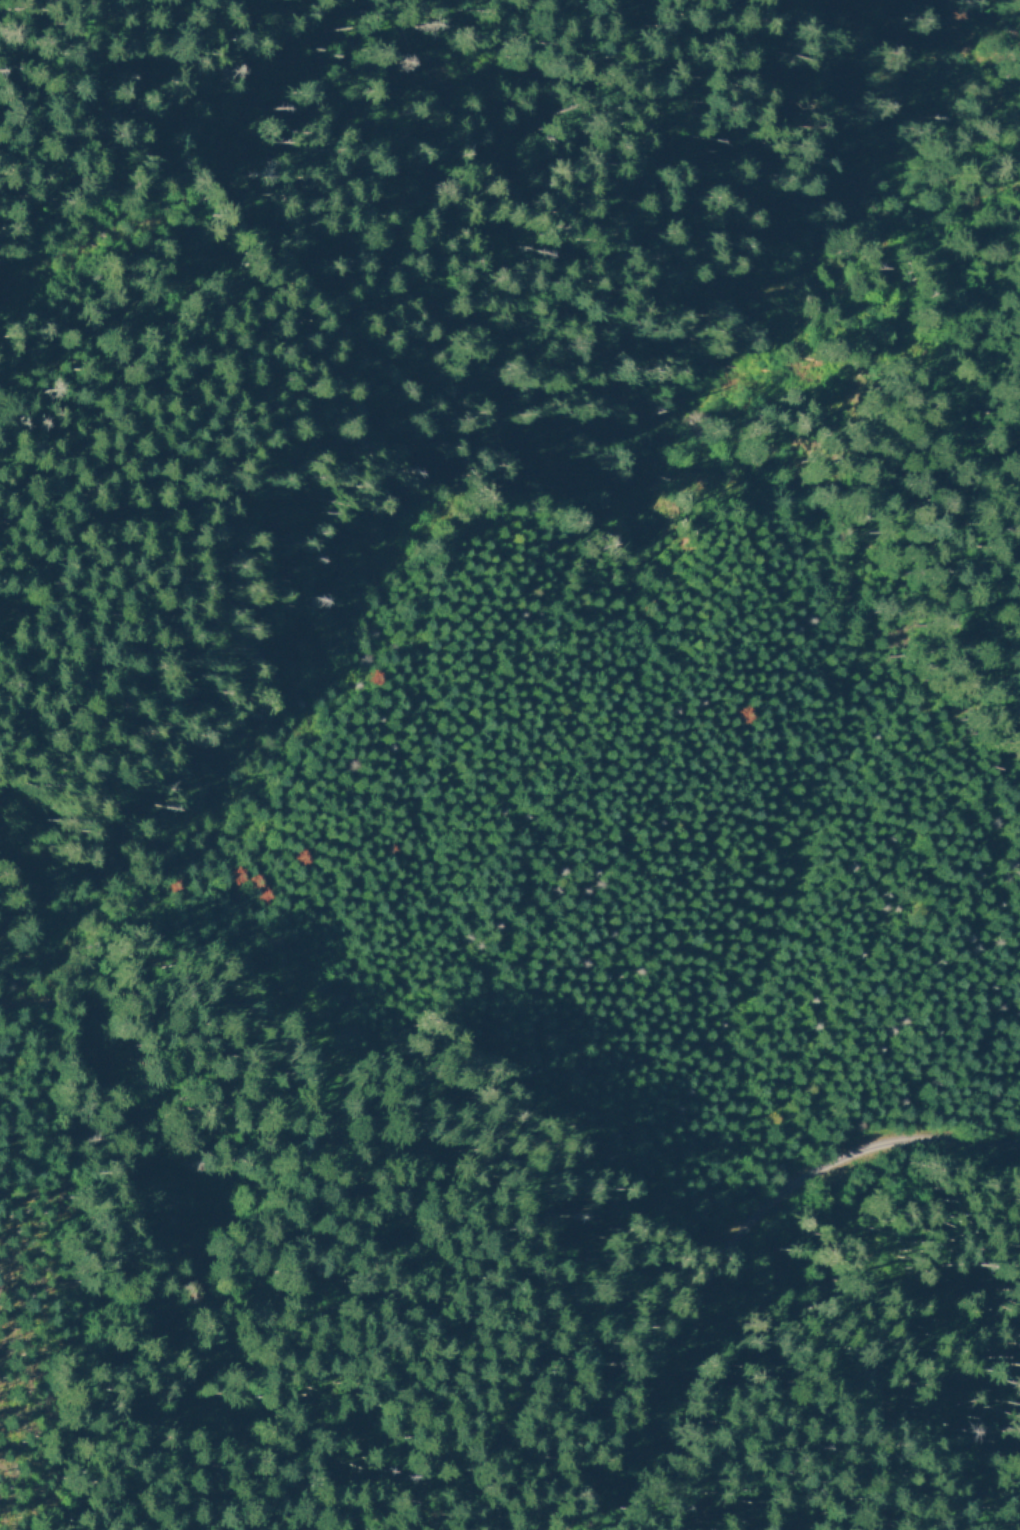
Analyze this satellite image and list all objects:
road: (193, 298)
road: (667, 1254)

